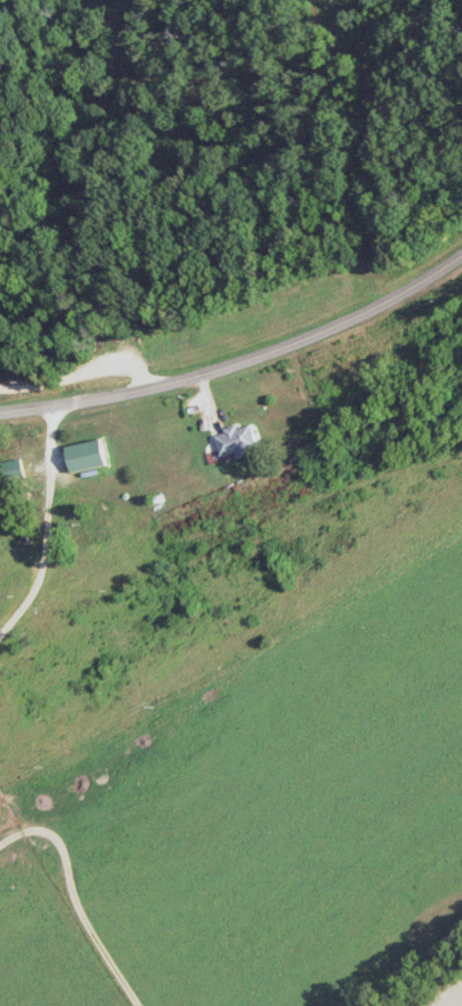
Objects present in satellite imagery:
road: (76, 343)
road: (240, 359)
building: (235, 439)
building: (11, 469)

